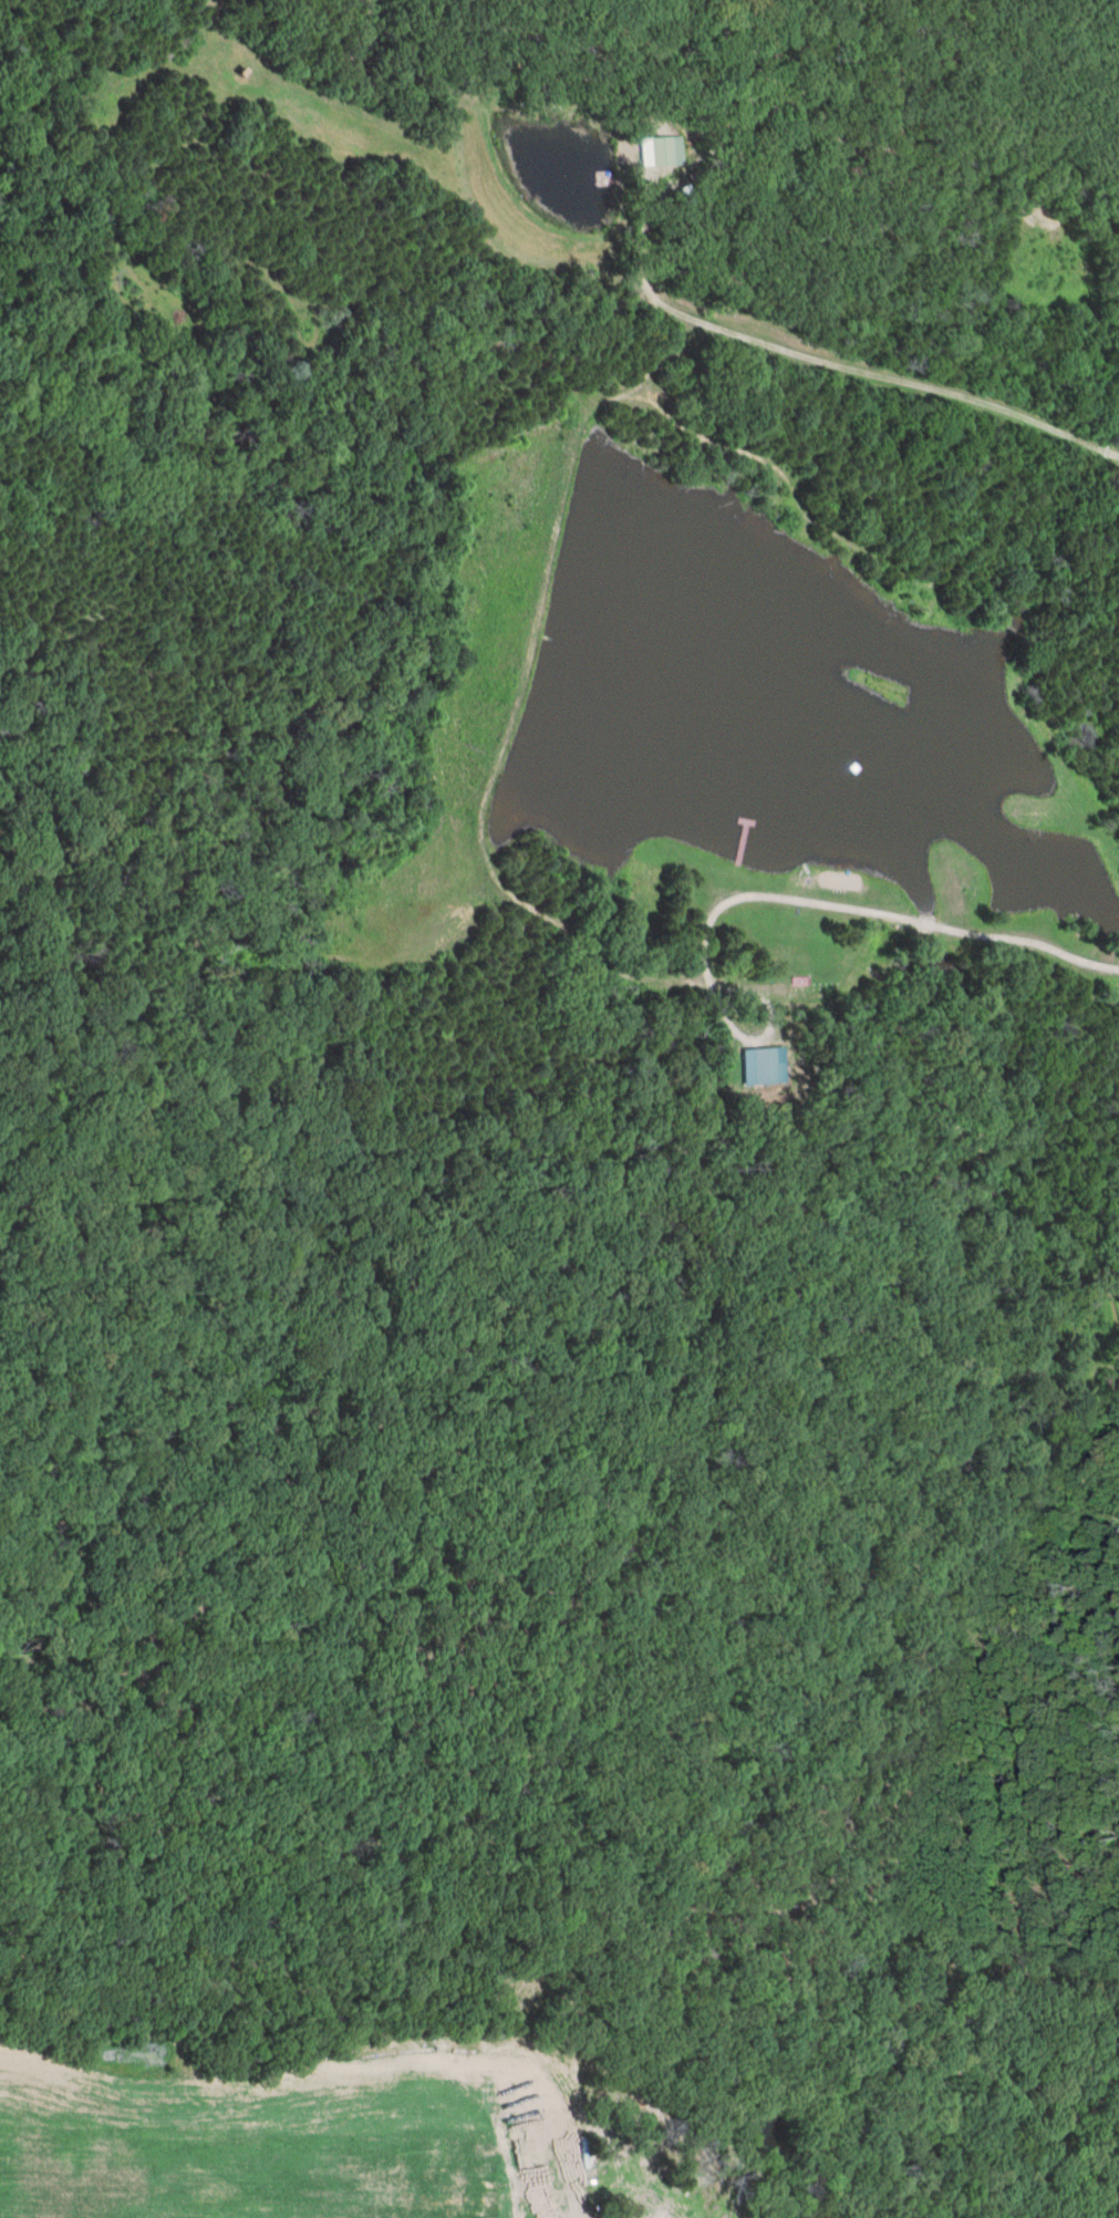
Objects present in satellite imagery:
building: (664, 152)
road: (836, 366)
building: (815, 986)
building: (767, 1067)

